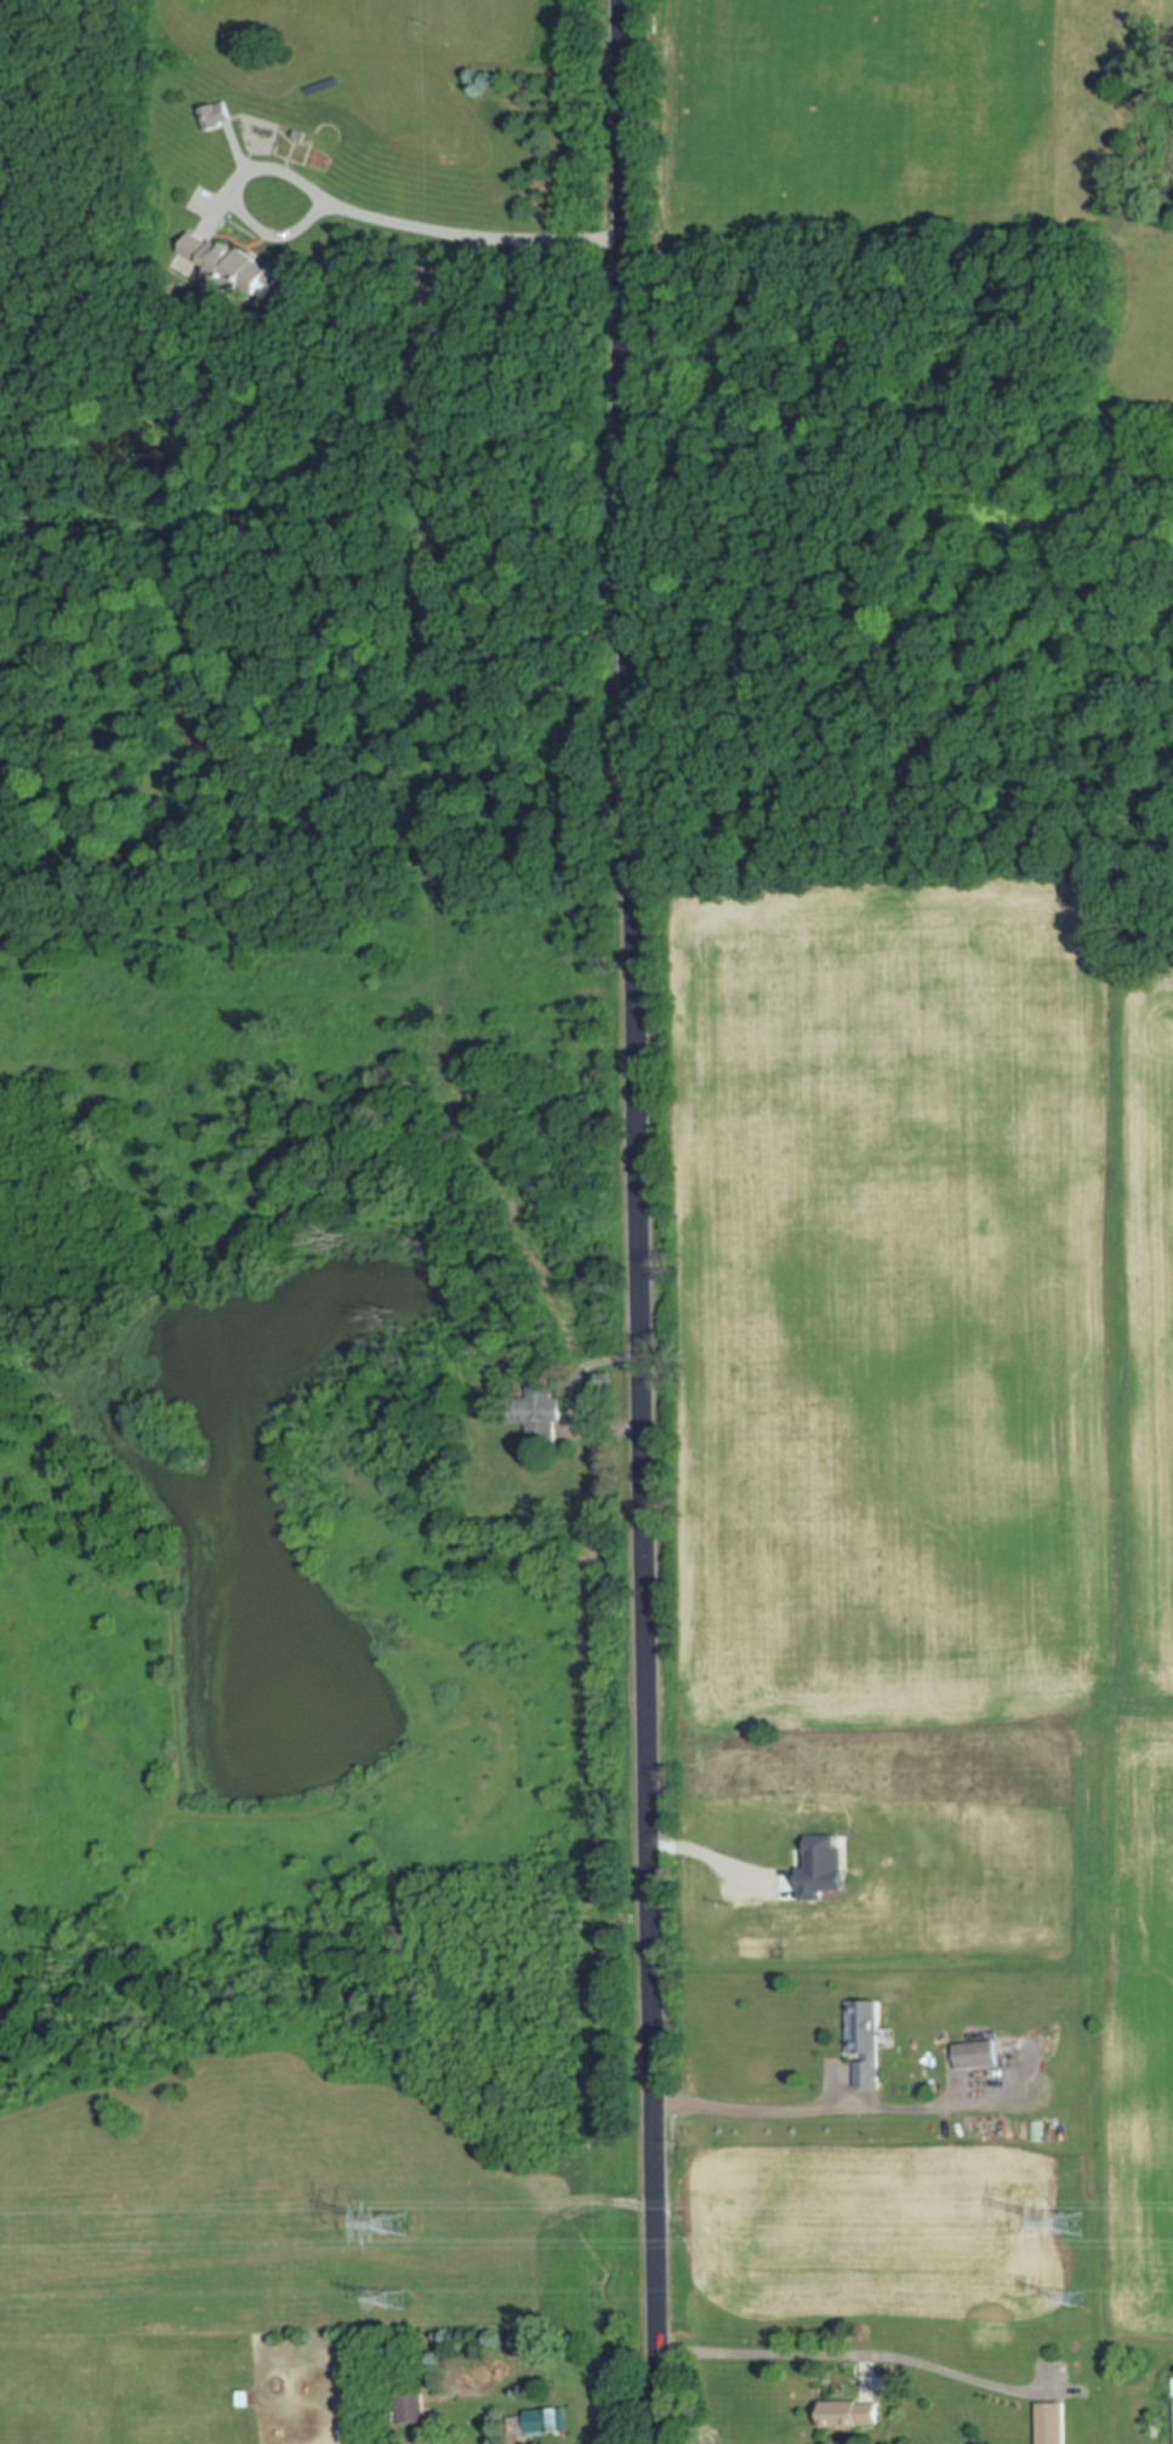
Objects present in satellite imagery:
road: (354, 209)
road: (382, 671)
road: (643, 1221)
building: (539, 1413)
road: (714, 1852)
building: (865, 2045)
building: (976, 2055)
road: (814, 2110)
power tower: (1059, 2224)
power tower: (383, 2227)
power tower: (397, 2302)
power tower: (1081, 2307)
road: (845, 2353)
building: (409, 2406)
building: (1171, 2410)
building: (849, 2414)
building: (537, 2422)
building: (1050, 2422)

